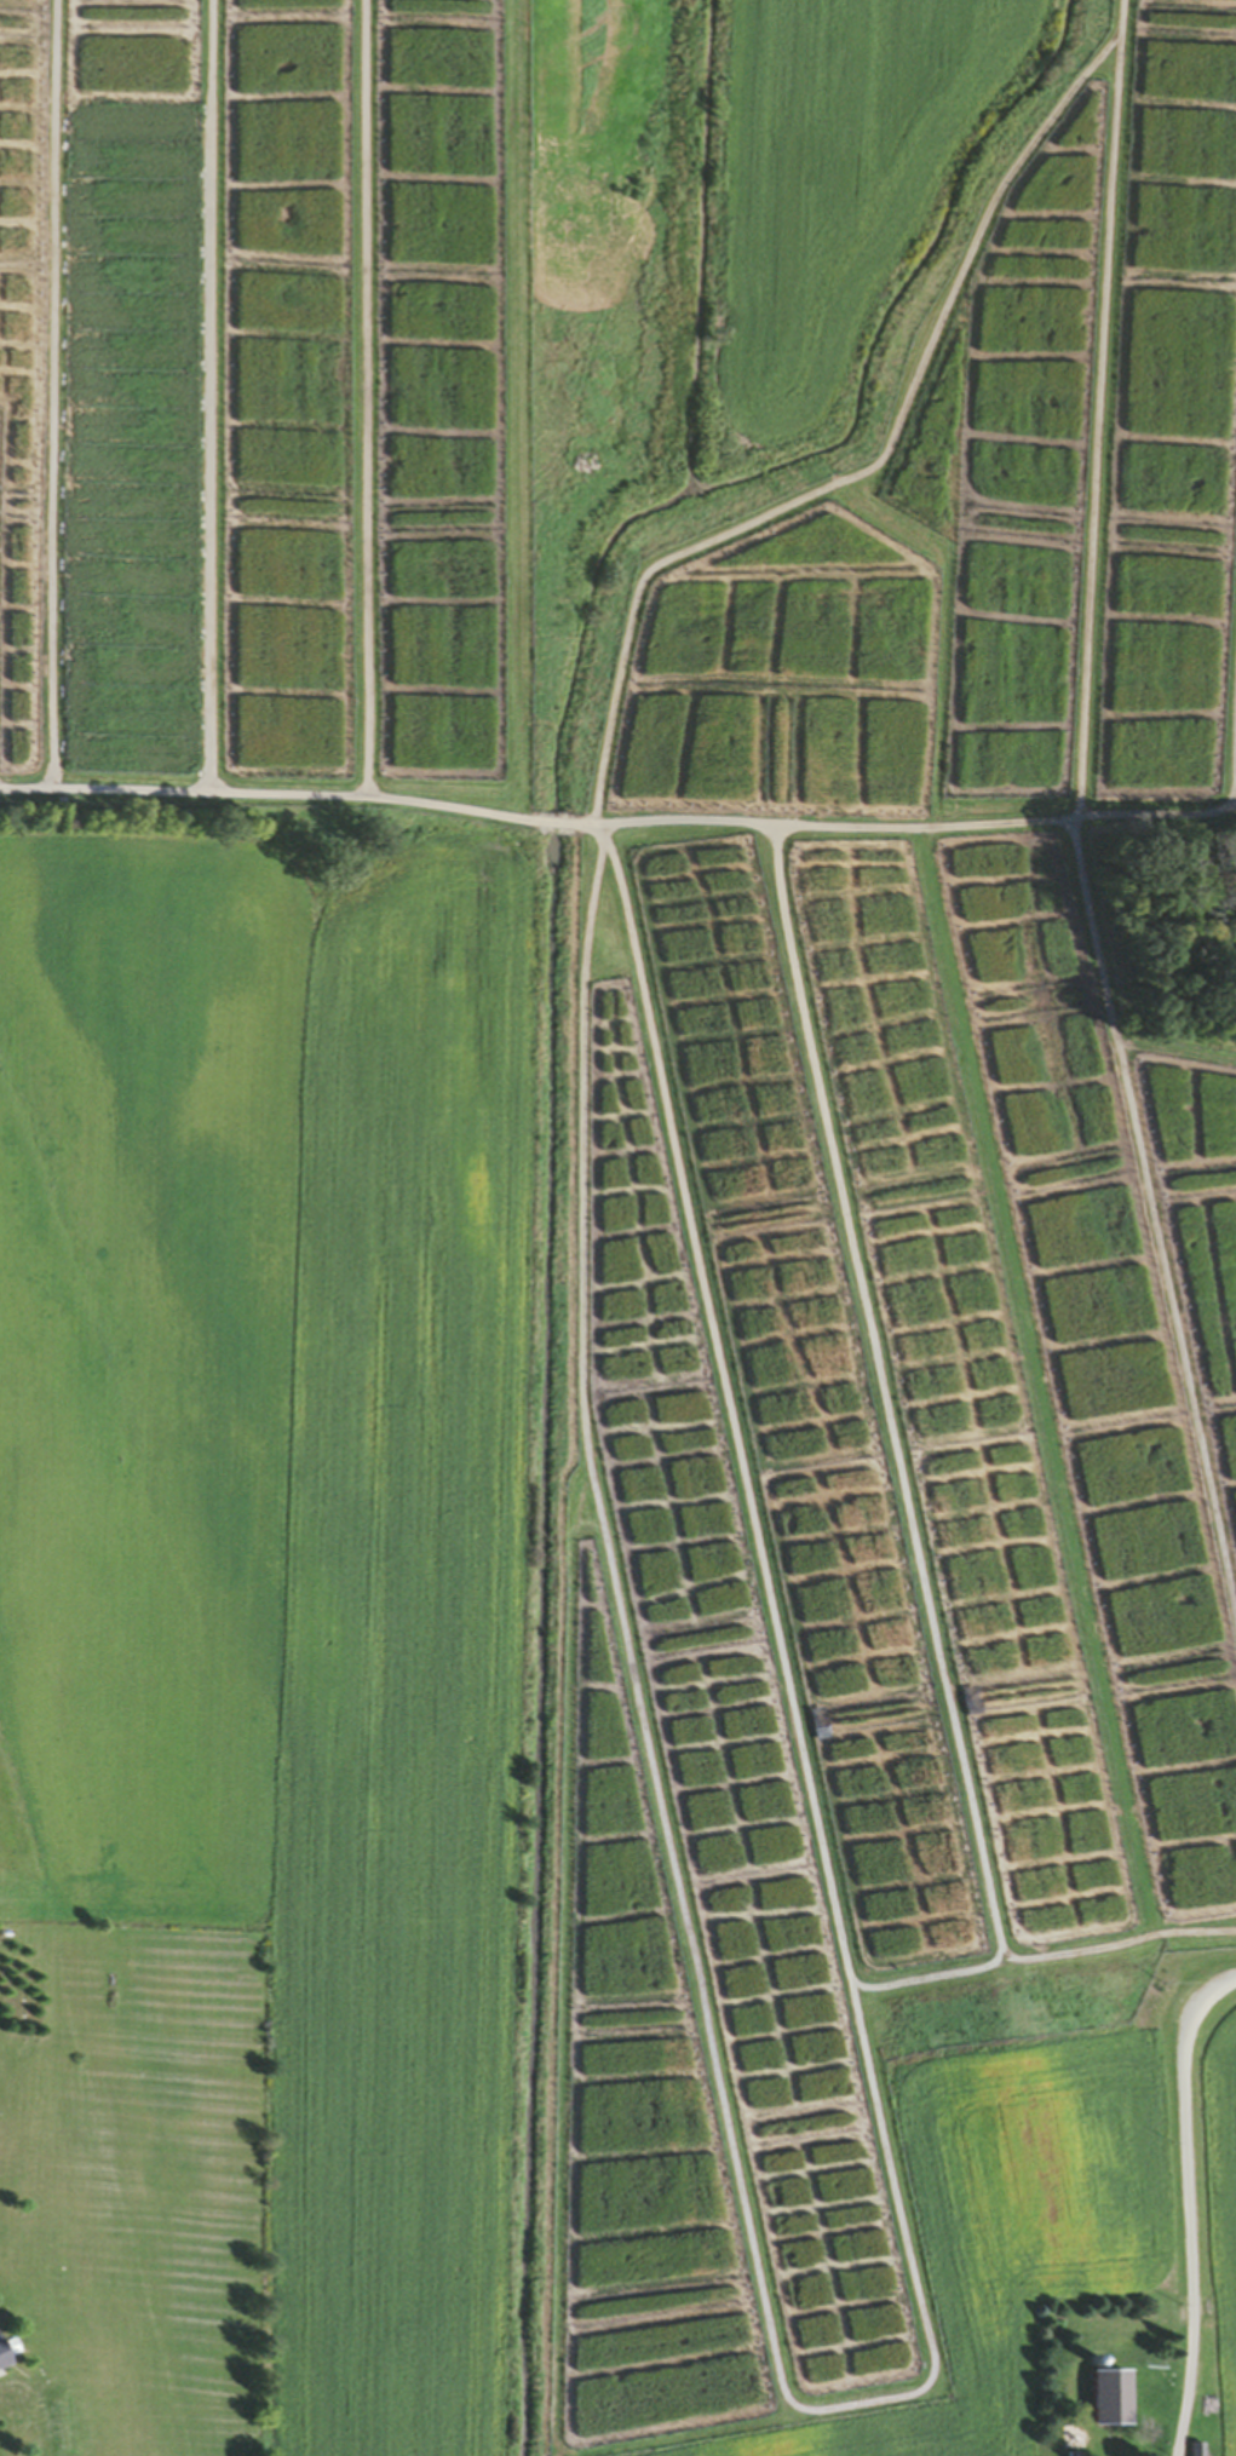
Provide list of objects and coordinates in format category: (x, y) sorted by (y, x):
building: (120, 1996)
road: (1183, 2133)
building: (6, 2356)
building: (1125, 2387)
road: (1188, 2387)
building: (1198, 2451)

